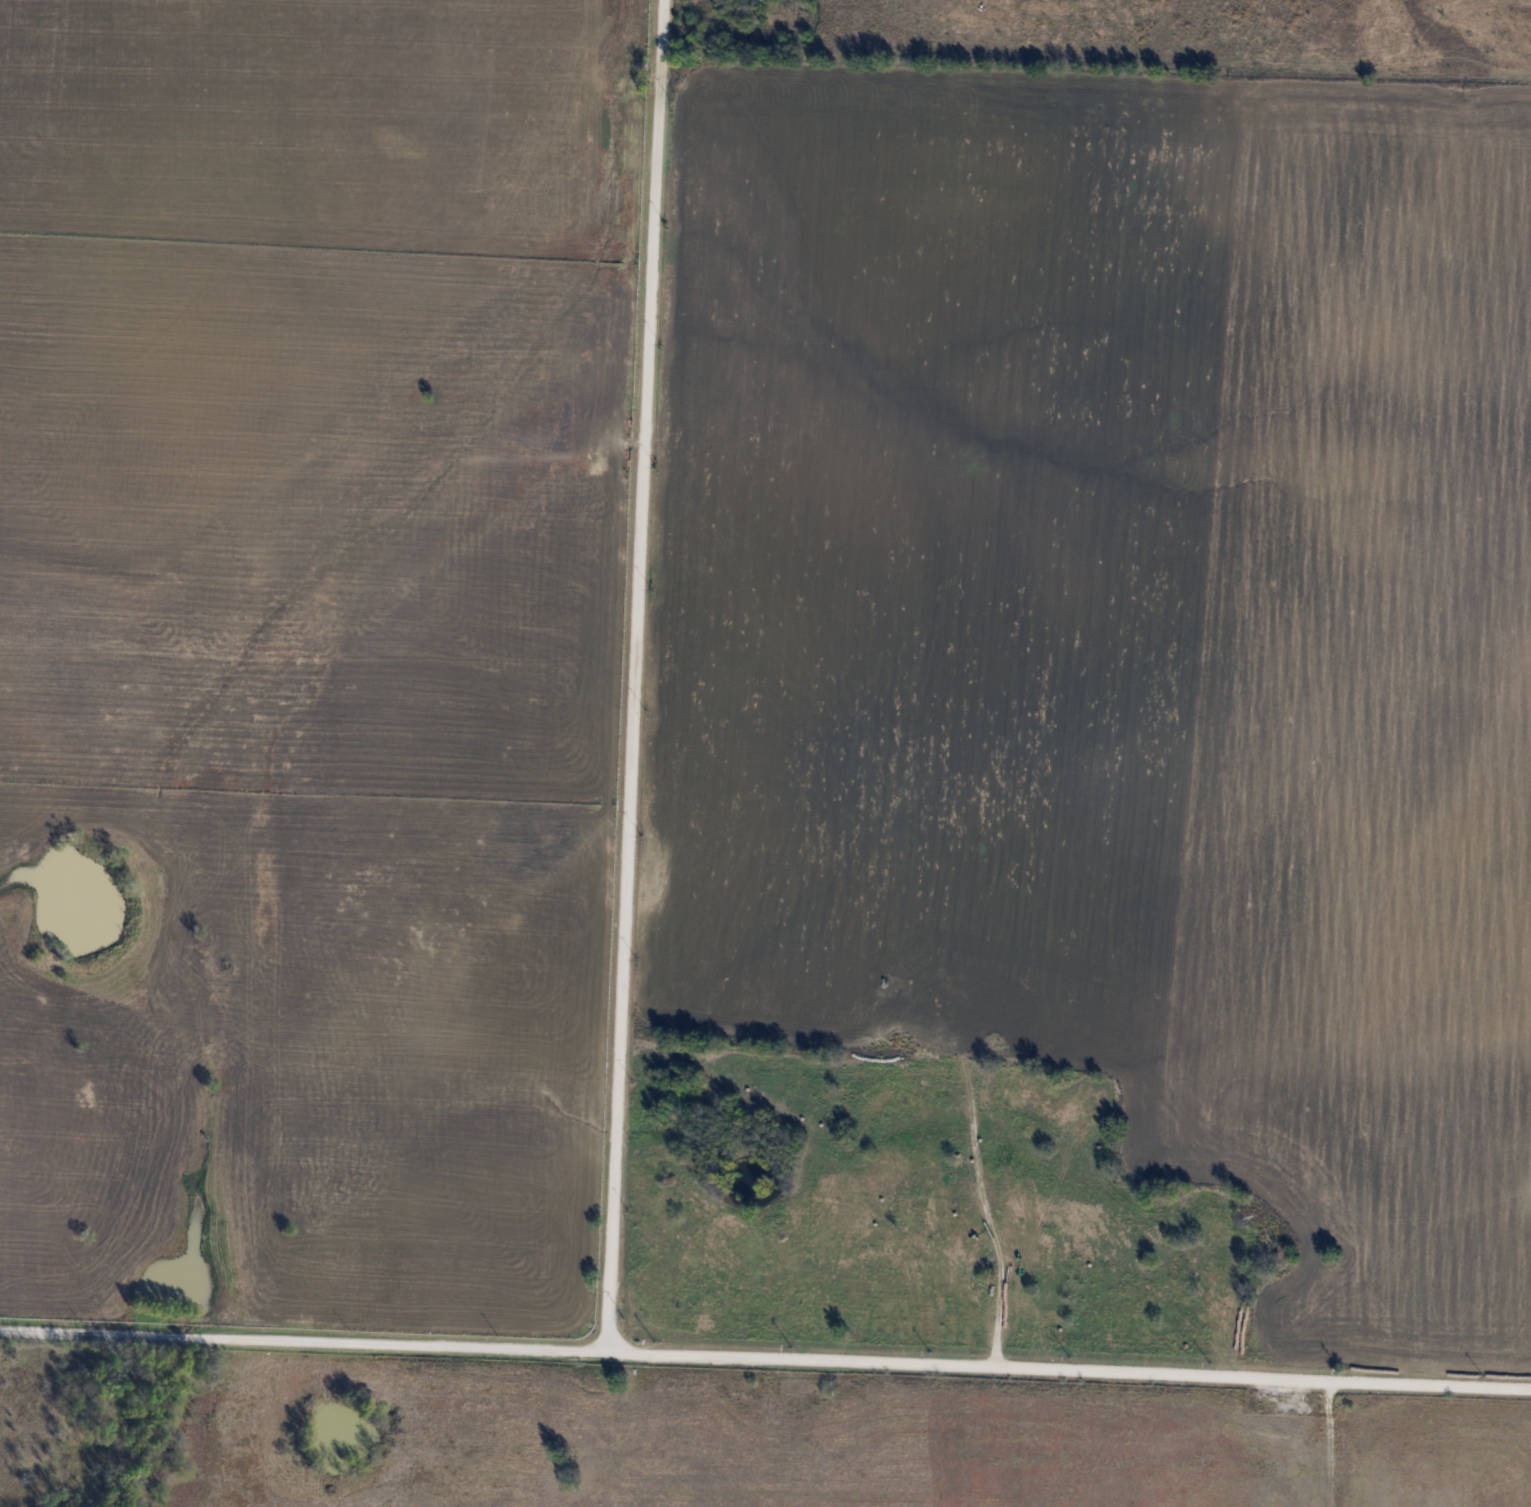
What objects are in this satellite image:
road: (633, 676)
road: (765, 1359)

